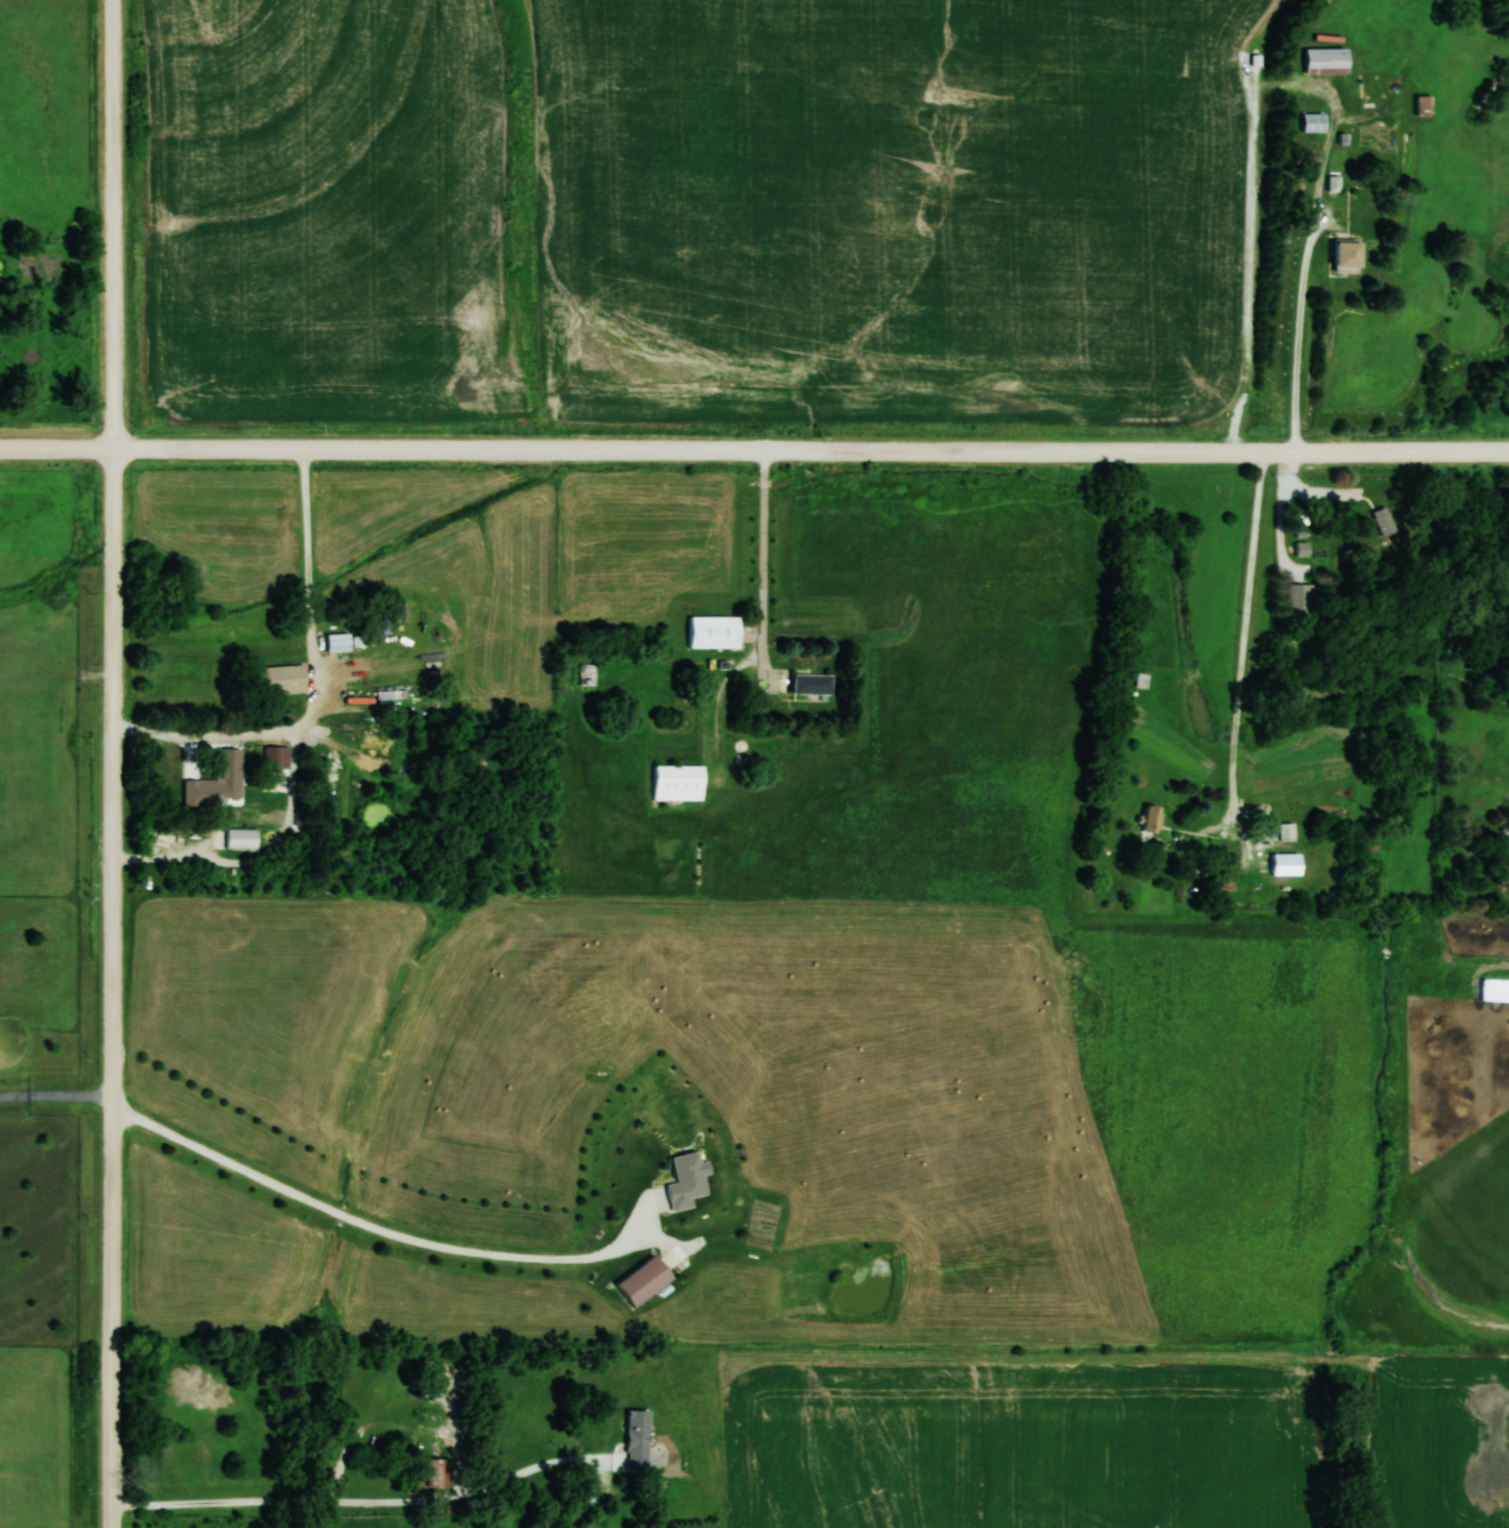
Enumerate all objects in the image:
building: (1327, 61)
road: (1293, 83)
building: (1423, 105)
building: (1313, 123)
building: (1334, 184)
road: (112, 224)
building: (1348, 256)
road: (56, 448)
road: (811, 450)
road: (1309, 491)
building: (1303, 548)
road: (763, 560)
building: (1301, 598)
building: (714, 632)
building: (359, 641)
building: (337, 643)
building: (587, 675)
building: (280, 679)
road: (323, 685)
building: (812, 685)
building: (391, 695)
road: (1235, 728)
building: (275, 756)
building: (228, 774)
building: (679, 782)
building: (1152, 819)
building: (1287, 831)
building: (241, 839)
road: (259, 862)
building: (1286, 864)
road: (111, 988)
road: (55, 1096)
building: (687, 1179)
road: (369, 1226)
building: (644, 1280)
building: (637, 1439)
building: (437, 1472)
road: (362, 1503)

